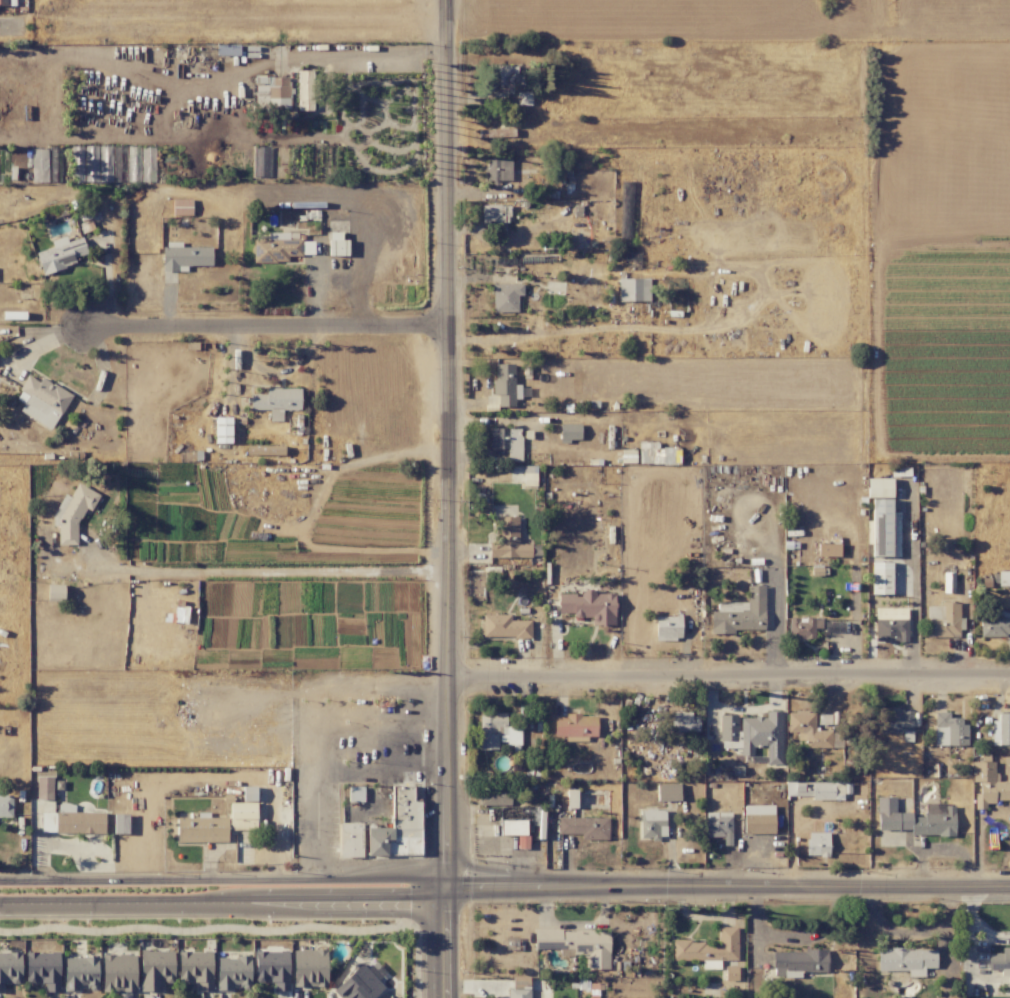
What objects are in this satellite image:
building: (4, 2)
road: (223, 13)
road: (7, 29)
road: (367, 52)
building: (501, 79)
building: (305, 90)
building: (272, 92)
building: (523, 98)
building: (261, 161)
building: (77, 164)
building: (39, 165)
building: (498, 170)
building: (181, 207)
building: (495, 214)
building: (337, 244)
building: (280, 248)
building: (60, 254)
building: (184, 256)
building: (633, 289)
building: (505, 297)
road: (264, 325)
road: (275, 372)
building: (505, 385)
building: (42, 401)
building: (276, 401)
building: (222, 430)
building: (570, 432)
building: (506, 442)
building: (265, 450)
building: (657, 454)
building: (529, 476)
building: (879, 488)
road: (447, 498)
building: (72, 513)
building: (883, 529)
building: (508, 540)
building: (828, 549)
road: (268, 569)
building: (881, 578)
building: (1003, 578)
building: (55, 594)
building: (589, 606)
building: (740, 613)
building: (943, 620)
building: (890, 624)
building: (996, 624)
building: (503, 626)
building: (833, 626)
building: (668, 627)
building: (803, 627)
road: (728, 673)
road: (420, 693)
building: (683, 722)
building: (897, 723)
building: (575, 725)
building: (728, 729)
building: (808, 730)
building: (948, 730)
building: (1000, 730)
building: (496, 731)
road: (418, 735)
building: (762, 735)
road: (324, 765)
building: (988, 785)
building: (44, 788)
building: (815, 790)
building: (668, 792)
building: (249, 793)
building: (355, 794)
building: (495, 796)
building: (5, 806)
building: (242, 816)
building: (916, 818)
building: (758, 819)
building: (72, 821)
building: (511, 823)
building: (120, 824)
building: (652, 824)
building: (719, 826)
building: (584, 827)
building: (201, 829)
building: (350, 840)
building: (817, 844)
road: (223, 879)
road: (727, 886)
road: (223, 900)
road: (973, 924)
road: (794, 938)
building: (577, 944)
building: (708, 947)
building: (906, 960)
building: (999, 961)
building: (798, 962)
building: (710, 964)
building: (309, 967)
building: (10, 968)
building: (272, 968)
building: (43, 969)
building: (155, 969)
building: (195, 969)
building: (118, 972)
building: (232, 972)
building: (80, 973)
building: (358, 985)
building: (519, 988)

